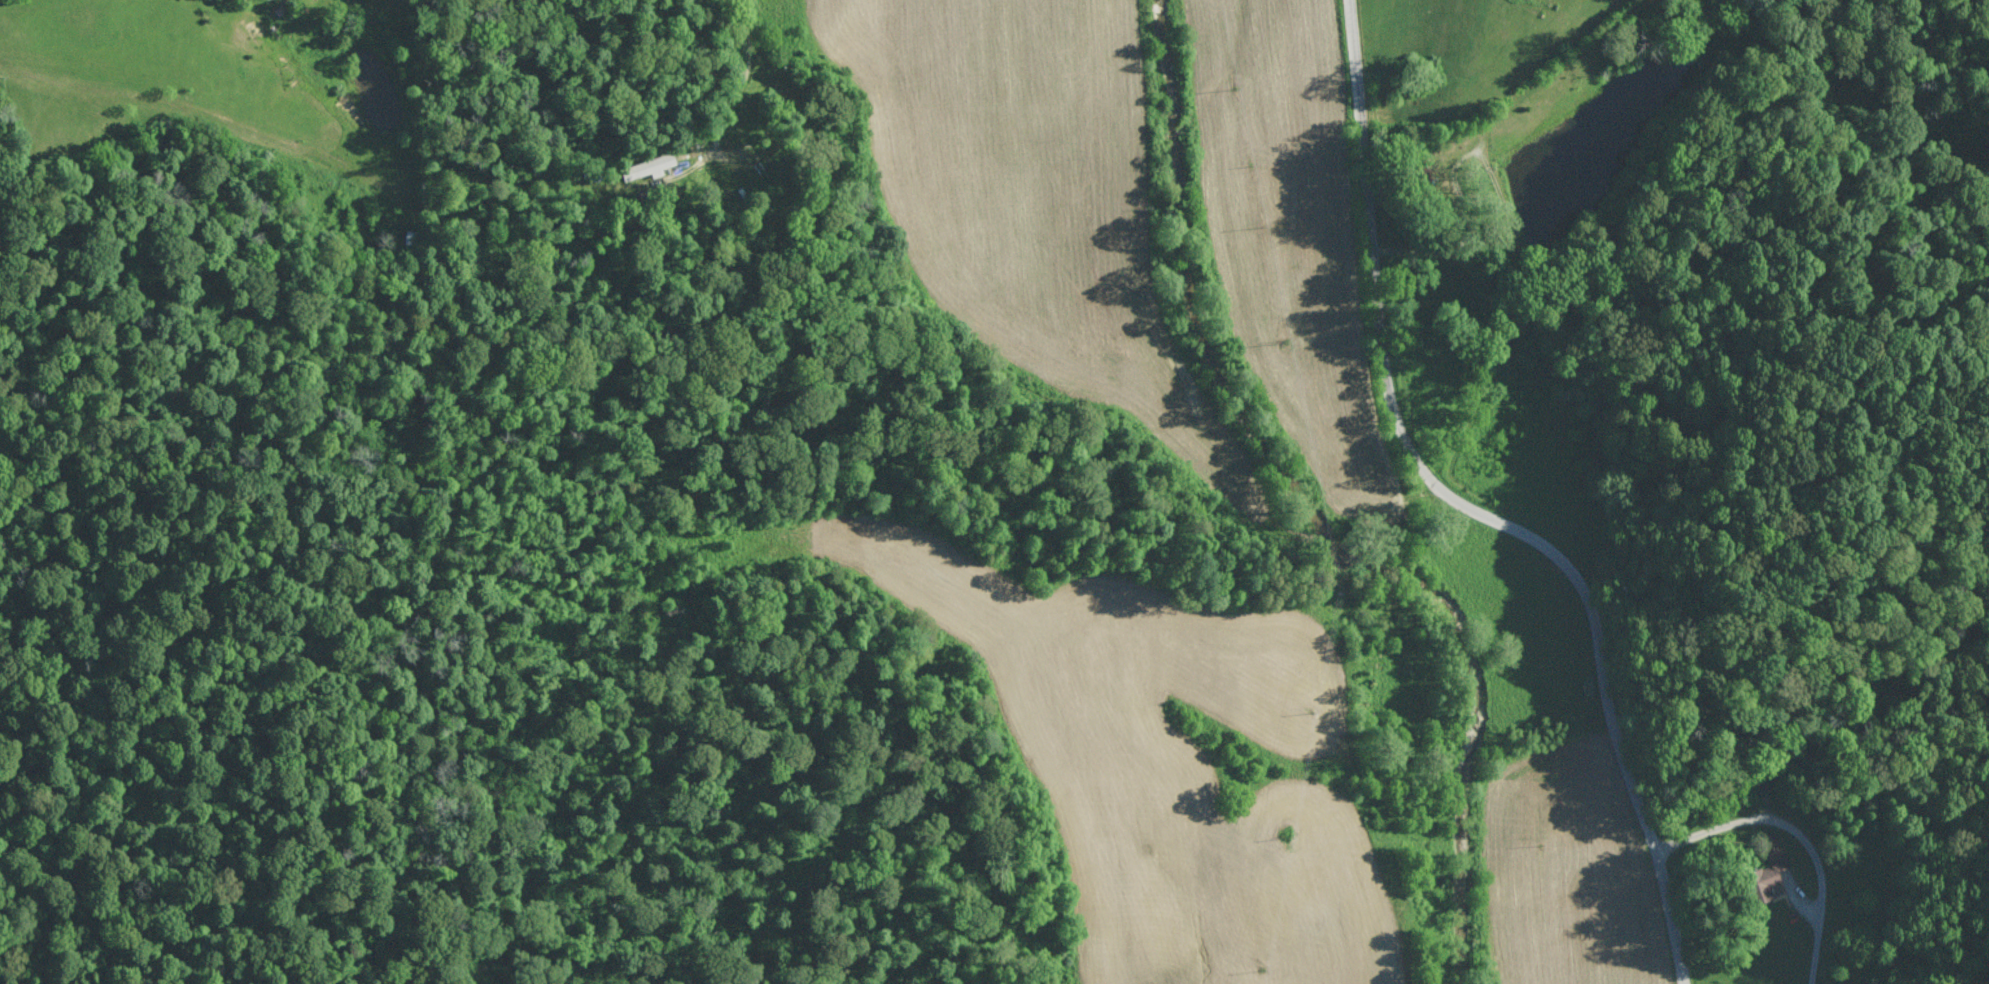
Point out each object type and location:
road: (738, 68)
building: (646, 167)
road: (1477, 507)
road: (1799, 835)
building: (1770, 873)

